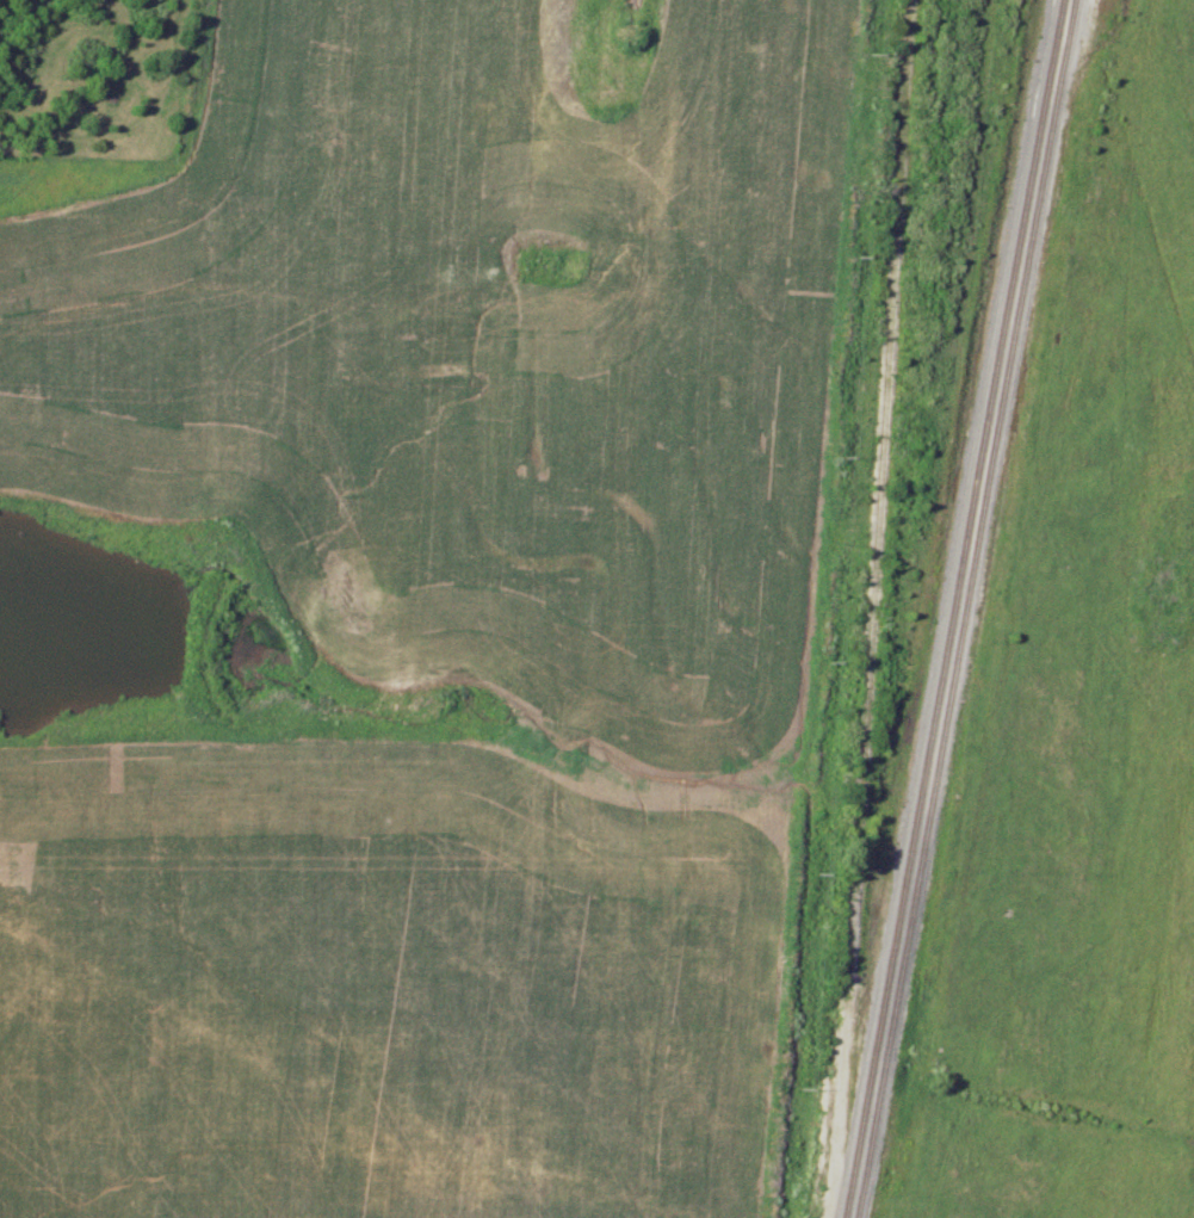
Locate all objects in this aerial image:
railway: (951, 608)
railway: (964, 608)

